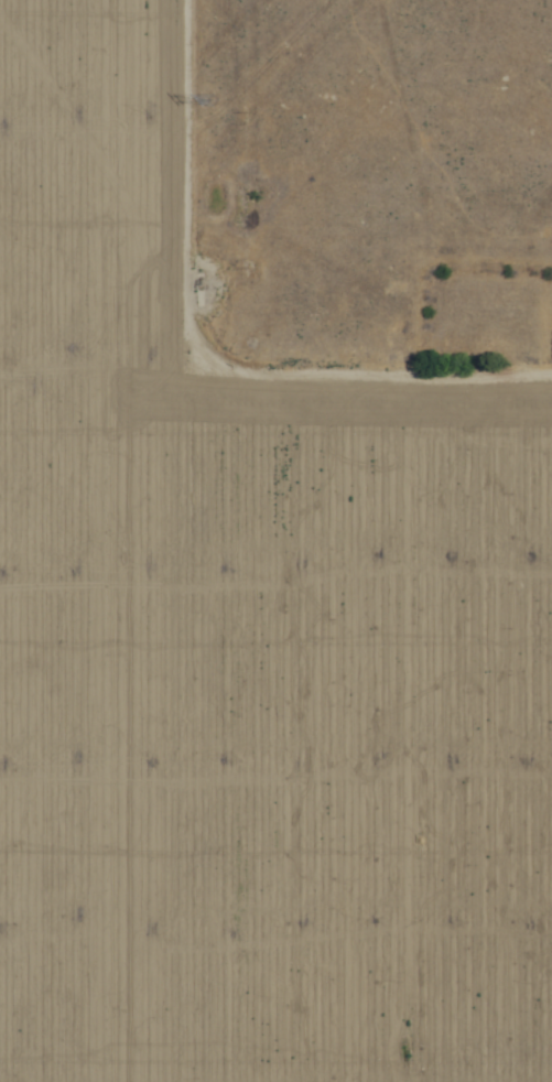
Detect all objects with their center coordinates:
power tower: (218, 100)
road: (194, 318)
crop: (249, 648)

